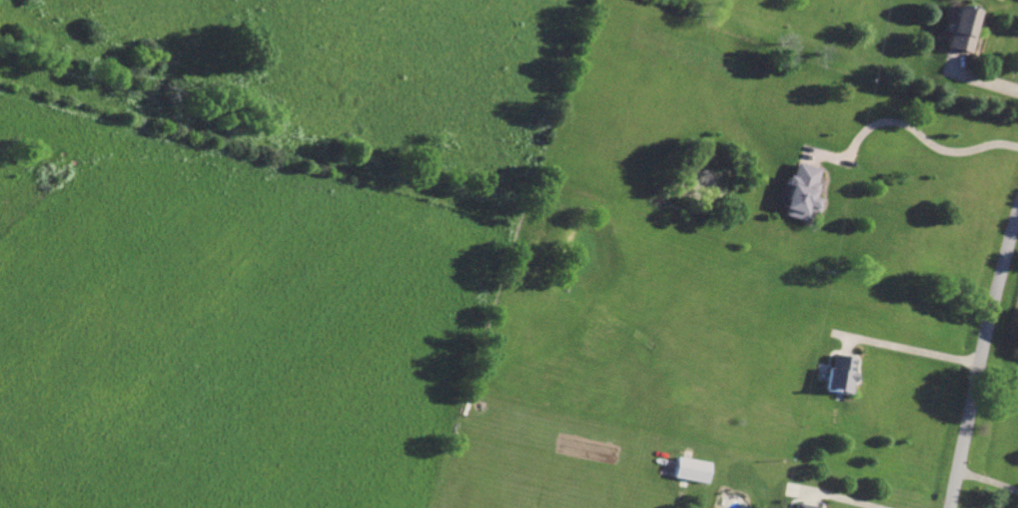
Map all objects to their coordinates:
building: (962, 28)
road: (989, 81)
road: (910, 130)
building: (801, 194)
road: (913, 349)
road: (979, 363)
building: (838, 375)
building: (692, 470)
road: (987, 482)
road: (840, 499)
building: (802, 506)

